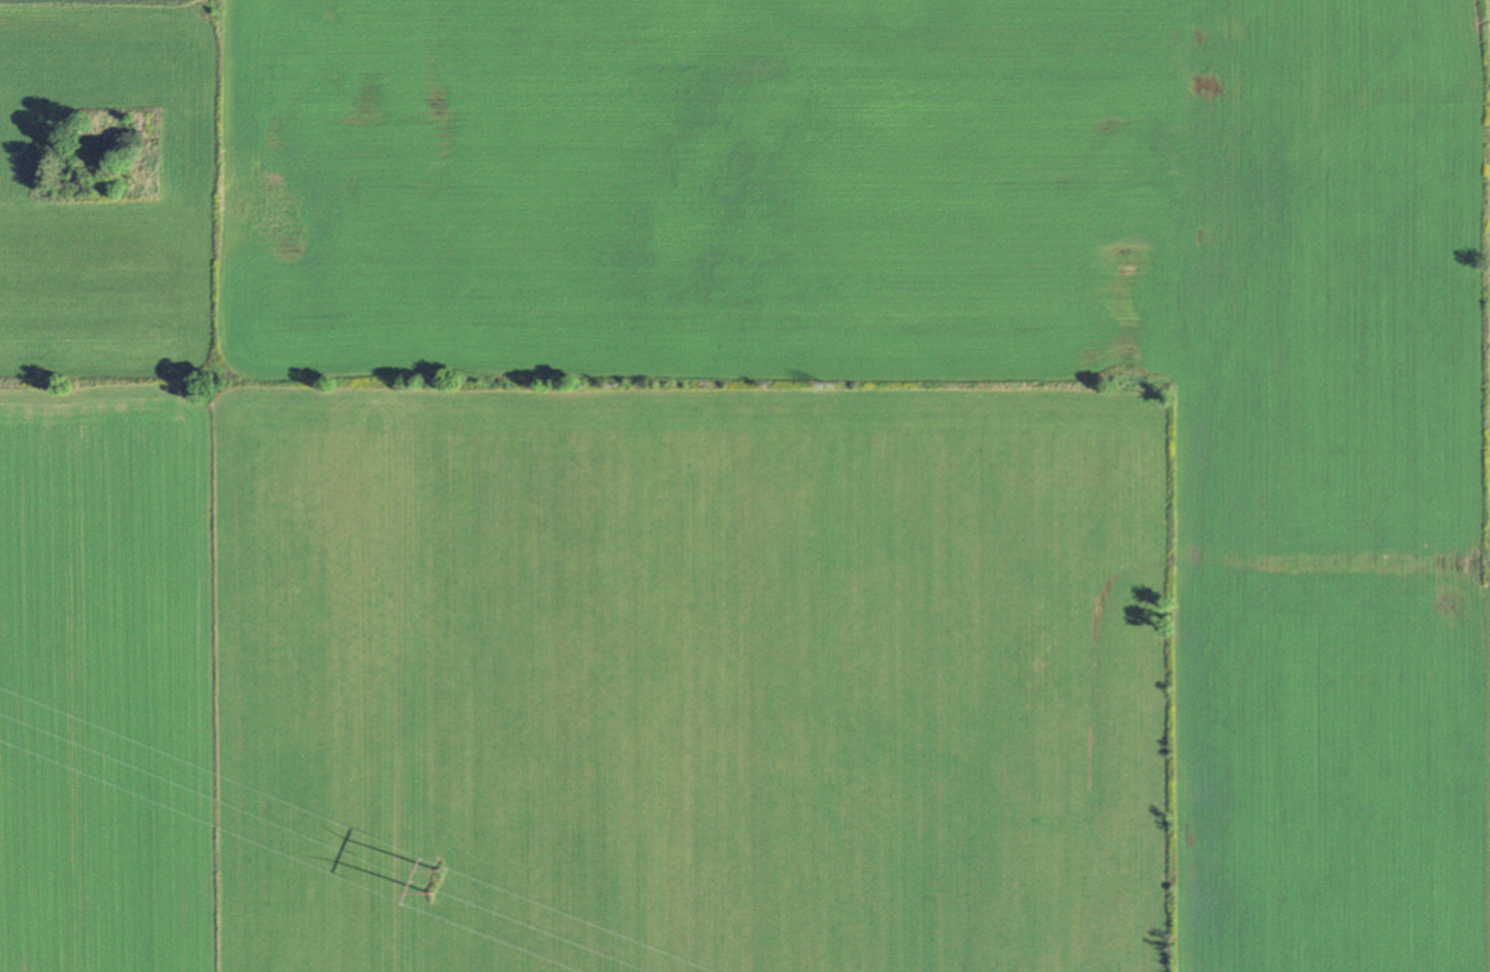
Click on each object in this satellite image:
power tower: (432, 877)

